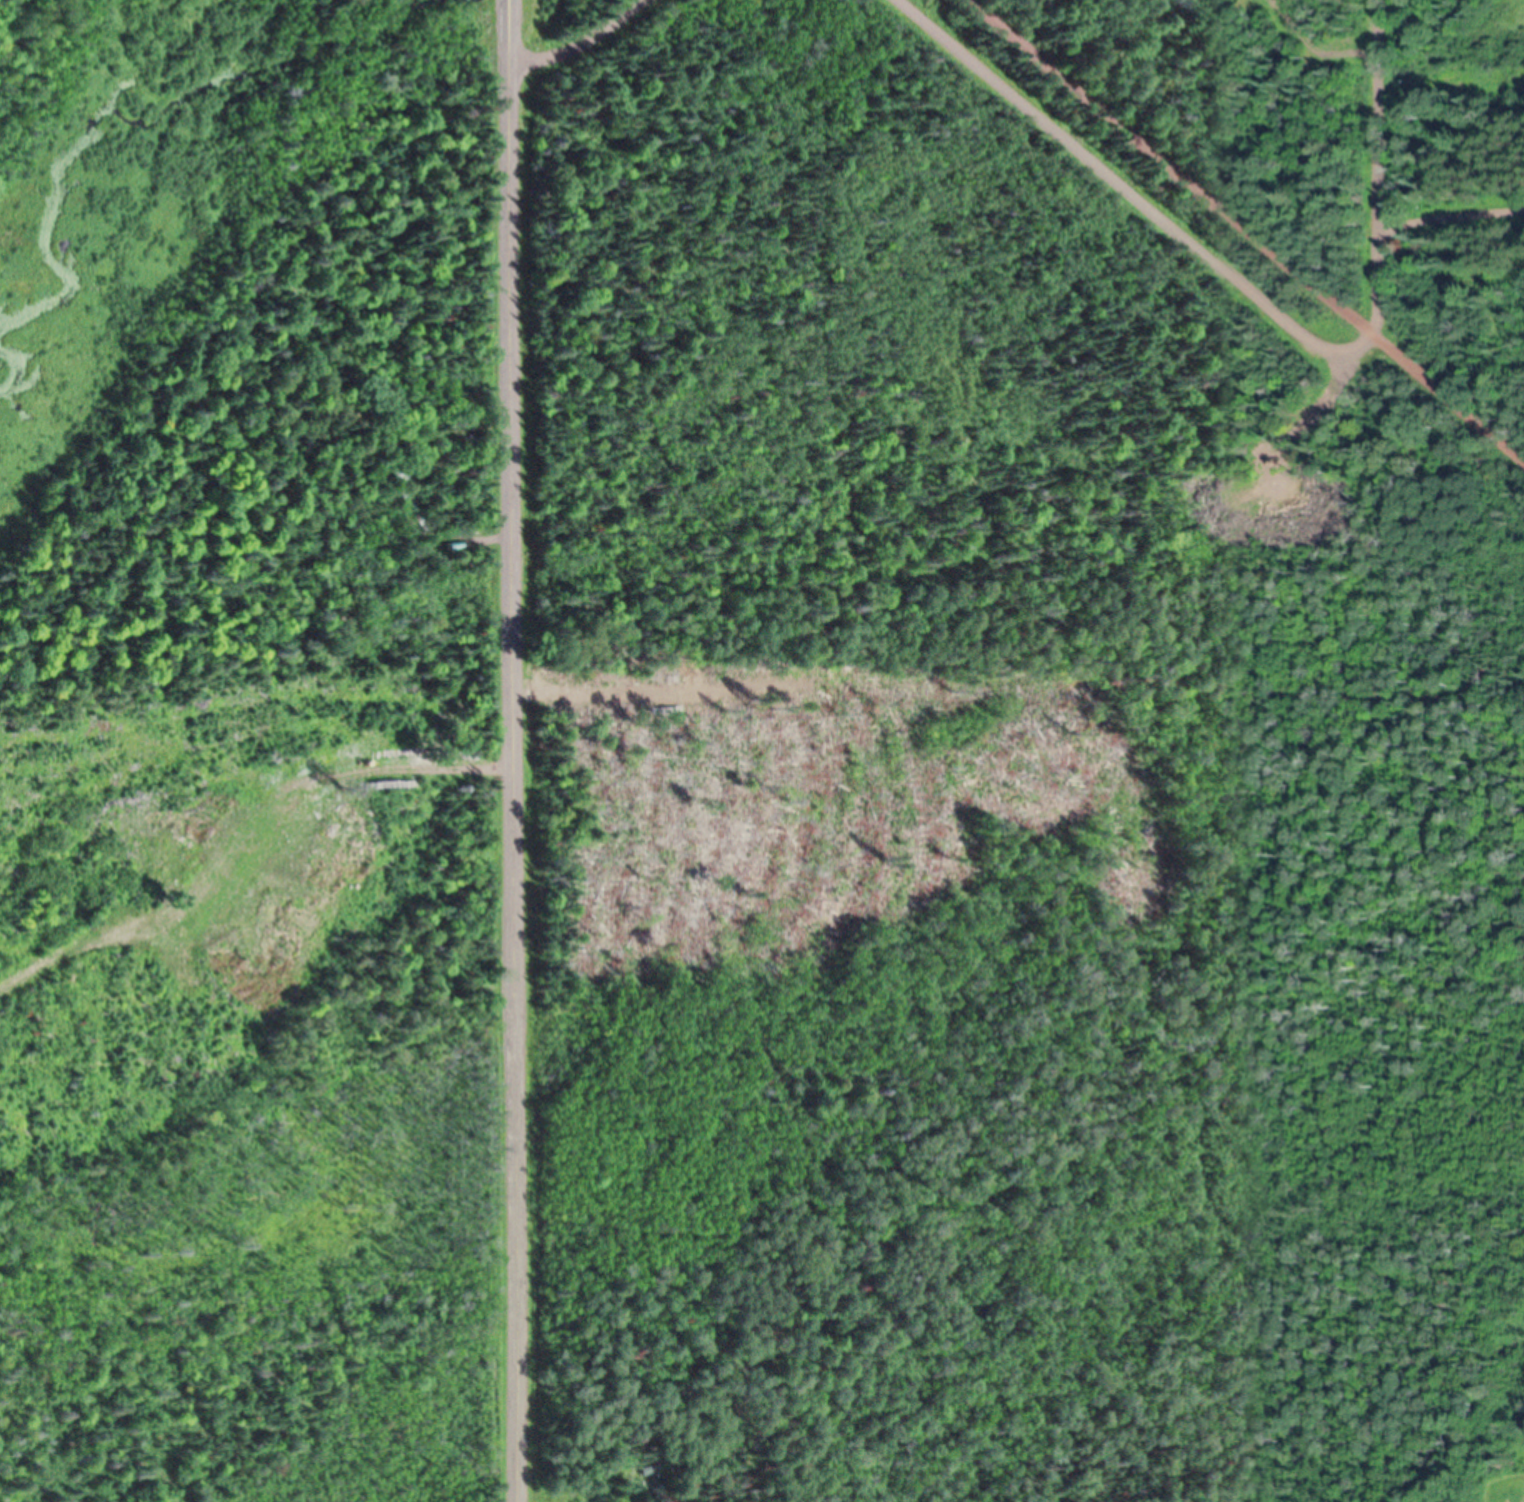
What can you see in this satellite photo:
road: (585, 46)
road: (1449, 214)
road: (1245, 232)
road: (1260, 303)
road: (515, 750)

